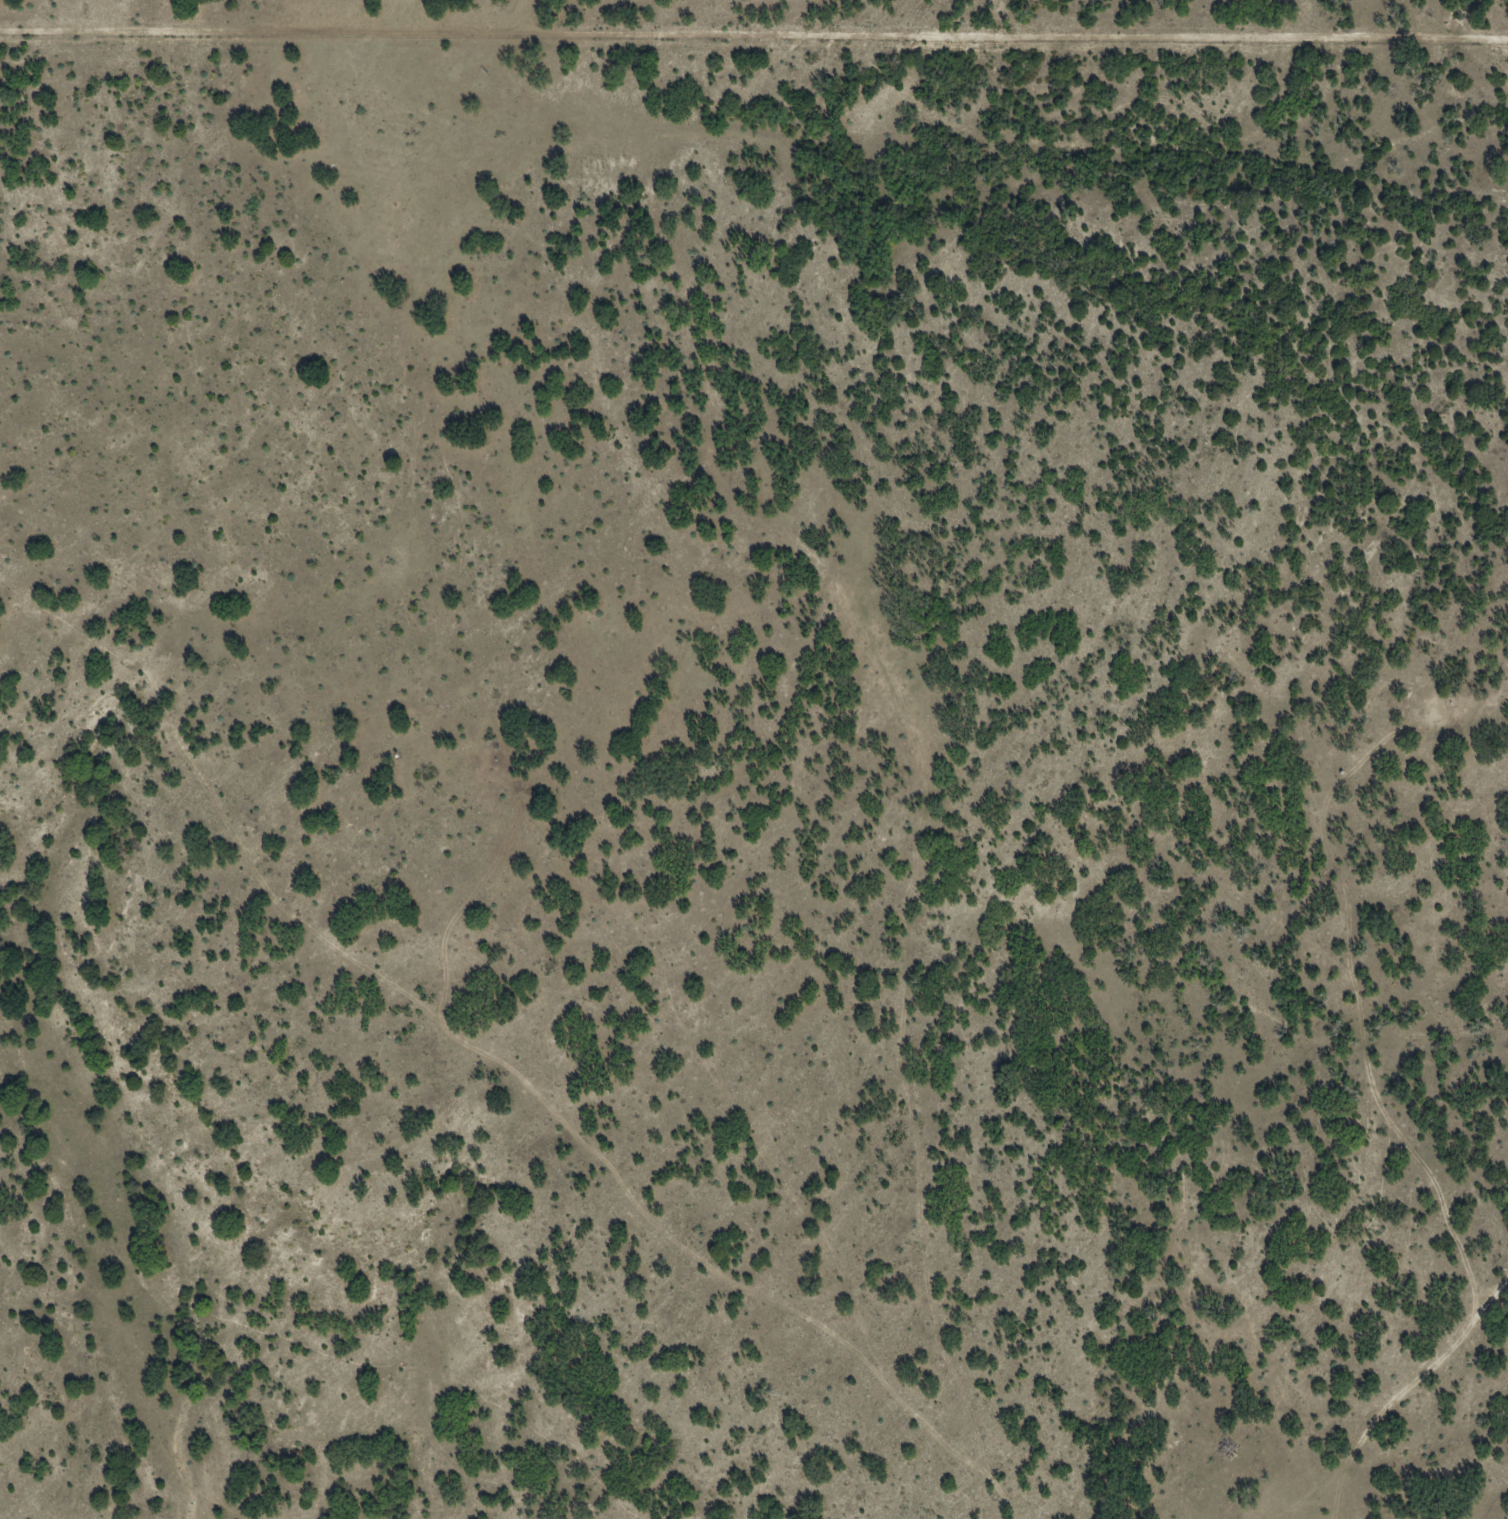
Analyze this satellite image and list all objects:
road: (907, 725)
road: (1391, 1397)

